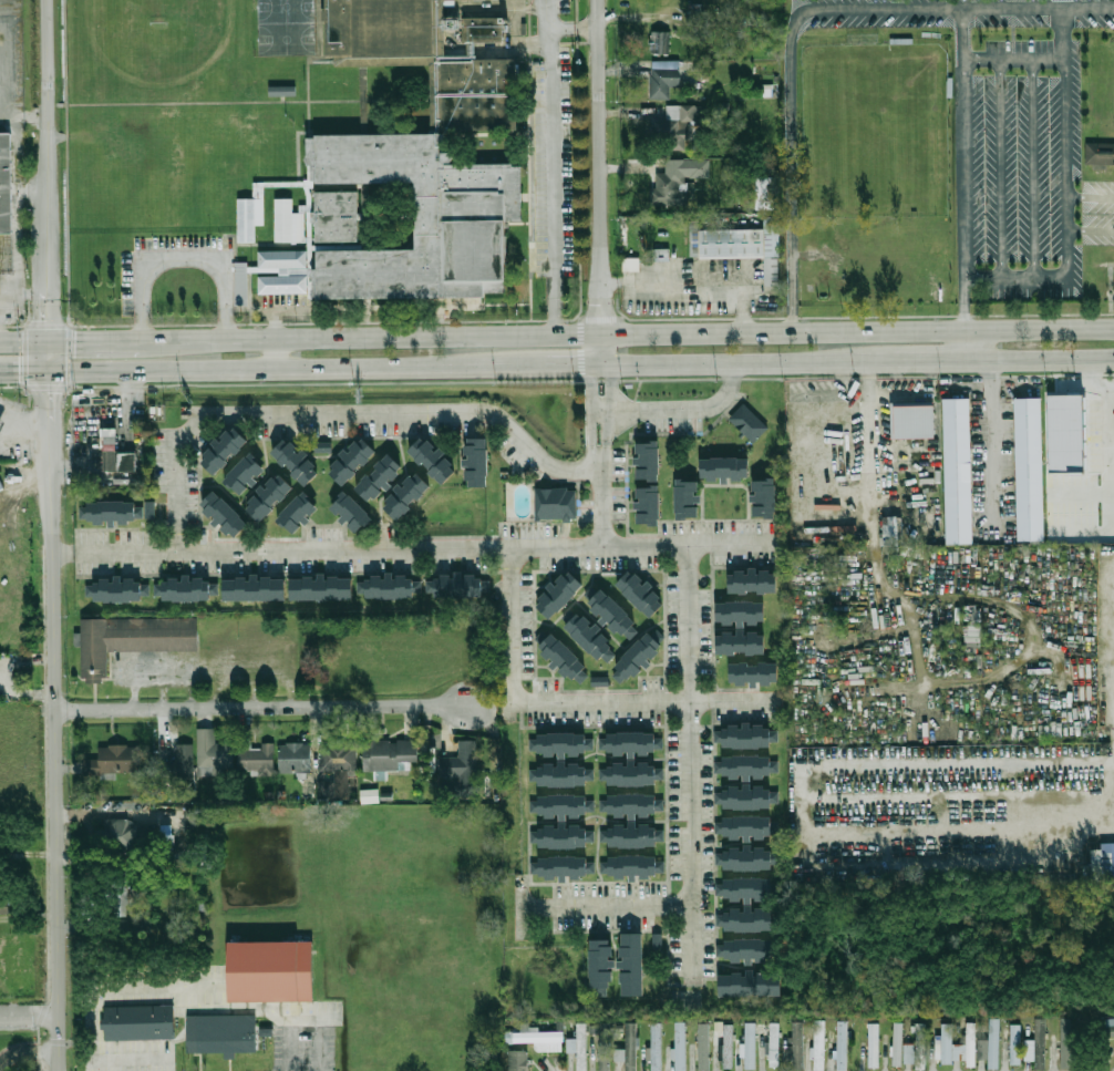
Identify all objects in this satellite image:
road: (955, 8)
building: (693, 17)
road: (574, 25)
park: (286, 27)
park: (157, 33)
building: (659, 42)
track: (227, 44)
road: (1014, 59)
building: (663, 78)
building: (281, 91)
road: (48, 121)
building: (675, 125)
parking lot: (1014, 132)
road: (1066, 141)
road: (962, 144)
building: (1100, 153)
building: (423, 164)
road: (550, 167)
road: (600, 167)
road: (1000, 168)
road: (1032, 168)
road: (788, 169)
building: (677, 181)
building: (6, 184)
building: (765, 194)
road: (1091, 197)
building: (334, 216)
building: (249, 218)
building: (287, 223)
road: (14, 228)
building: (736, 240)
building: (661, 255)
road: (183, 261)
building: (630, 264)
building: (282, 271)
road: (1014, 278)
building: (241, 282)
road: (48, 292)
road: (21, 294)
road: (962, 305)
road: (364, 308)
traffic signals: (48, 317)
road: (857, 331)
road: (578, 337)
road: (344, 339)
road: (91, 341)
traffic signals: (74, 342)
road: (23, 343)
road: (962, 346)
road: (602, 351)
road: (274, 353)
road: (49, 356)
road: (1038, 361)
road: (915, 362)
road: (734, 364)
road: (326, 365)
road: (24, 369)
traffic signals: (18, 370)
road: (1093, 383)
road: (592, 388)
road: (611, 388)
traffic signals: (50, 392)
road: (50, 404)
road: (687, 411)
road: (601, 412)
road: (337, 416)
building: (910, 419)
building: (749, 422)
building: (1, 424)
gas station: (1, 424)
road: (1111, 426)
road: (608, 428)
road: (592, 429)
road: (869, 430)
building: (1065, 433)
road: (993, 437)
building: (322, 446)
building: (224, 450)
road: (596, 457)
road: (602, 457)
building: (434, 459)
building: (351, 460)
building: (296, 461)
building: (477, 461)
building: (120, 462)
building: (1028, 467)
building: (726, 468)
building: (957, 471)
building: (245, 473)
building: (380, 477)
building: (648, 483)
building: (408, 495)
building: (268, 496)
building: (688, 498)
building: (765, 498)
building: (557, 504)
road: (602, 506)
building: (120, 512)
building: (298, 512)
building: (352, 513)
building: (225, 514)
building: (890, 529)
building: (1061, 529)
road: (412, 546)
building: (754, 580)
building: (463, 585)
building: (393, 586)
building: (289, 587)
building: (190, 588)
building: (122, 589)
building: (641, 593)
building: (559, 594)
building: (742, 612)
building: (615, 615)
building: (132, 639)
building: (592, 639)
building: (743, 642)
building: (640, 656)
building: (566, 660)
building: (755, 673)
road: (565, 701)
road: (262, 708)
building: (751, 735)
building: (635, 743)
building: (565, 744)
building: (390, 754)
road: (56, 755)
building: (256, 755)
building: (337, 756)
building: (215, 758)
building: (295, 758)
building: (114, 760)
road: (687, 760)
building: (177, 762)
building: (751, 768)
building: (461, 771)
building: (635, 774)
building: (566, 775)
building: (369, 796)
building: (752, 799)
building: (567, 805)
building: (635, 805)
road: (110, 813)
building: (195, 820)
building: (750, 828)
building: (121, 831)
building: (567, 836)
building: (637, 836)
building: (1, 842)
building: (164, 843)
building: (749, 858)
building: (1104, 863)
building: (567, 867)
building: (637, 867)
building: (749, 890)
building: (117, 902)
road: (605, 905)
building: (4, 908)
building: (750, 919)
building: (658, 943)
building: (749, 950)
building: (633, 965)
building: (602, 968)
building: (269, 970)
building: (751, 985)
road: (30, 1009)
building: (138, 1020)
building: (1110, 1027)
building: (226, 1033)
building: (1111, 1036)
building: (539, 1037)
building: (1038, 1042)
building: (945, 1043)
building: (774, 1044)
building: (875, 1044)
building: (897, 1044)
building: (991, 1044)
building: (1015, 1044)
building: (1062, 1044)
building: (605, 1046)
building: (728, 1046)
building: (751, 1046)
building: (797, 1046)
building: (819, 1046)
building: (843, 1046)
building: (967, 1046)
building: (581, 1047)
building: (656, 1047)
building: (680, 1047)
building: (918, 1047)
building: (704, 1048)
building: (629, 1049)
road: (29, 1051)
building: (519, 1061)

